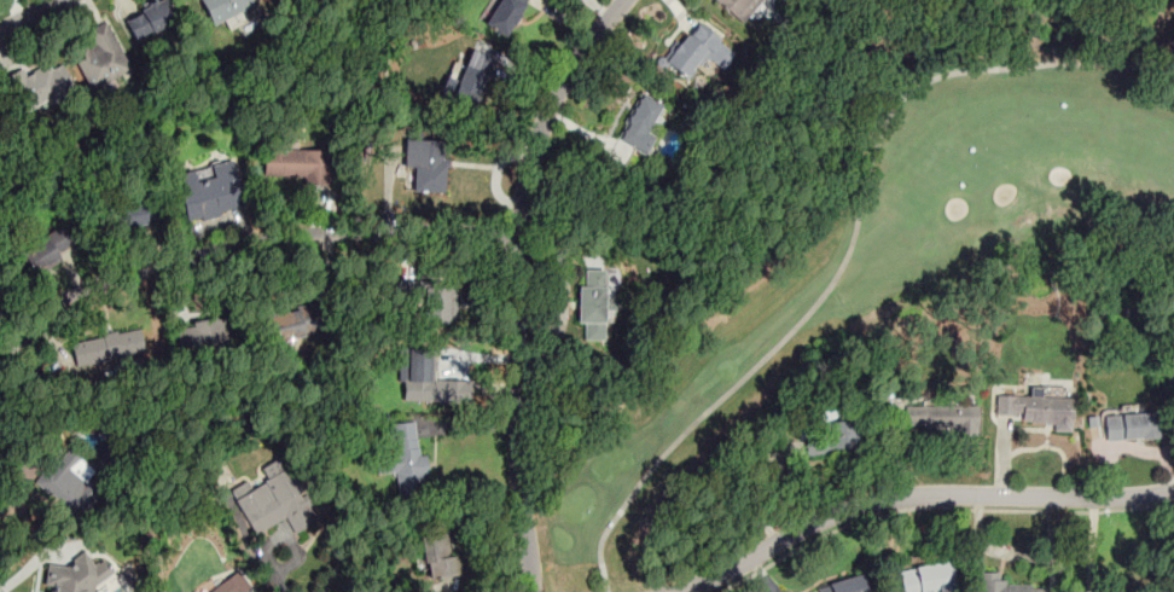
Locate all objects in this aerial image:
building: (739, 7)
building: (226, 8)
building: (505, 13)
road: (28, 14)
building: (150, 22)
building: (698, 52)
building: (101, 58)
building: (470, 81)
building: (42, 87)
building: (641, 126)
building: (424, 163)
building: (296, 166)
building: (209, 192)
building: (139, 210)
road: (249, 245)
road: (849, 246)
building: (48, 248)
park: (877, 249)
road: (521, 283)
building: (434, 302)
building: (593, 304)
building: (295, 325)
building: (207, 331)
building: (104, 348)
building: (411, 365)
building: (1039, 410)
building: (942, 418)
building: (1132, 425)
building: (832, 436)
building: (403, 465)
building: (69, 483)
road: (916, 495)
building: (277, 504)
road: (936, 507)
road: (1091, 545)
building: (434, 555)
road: (278, 573)
building: (74, 575)
building: (925, 579)
building: (844, 585)
building: (231, 586)
building: (1011, 587)

